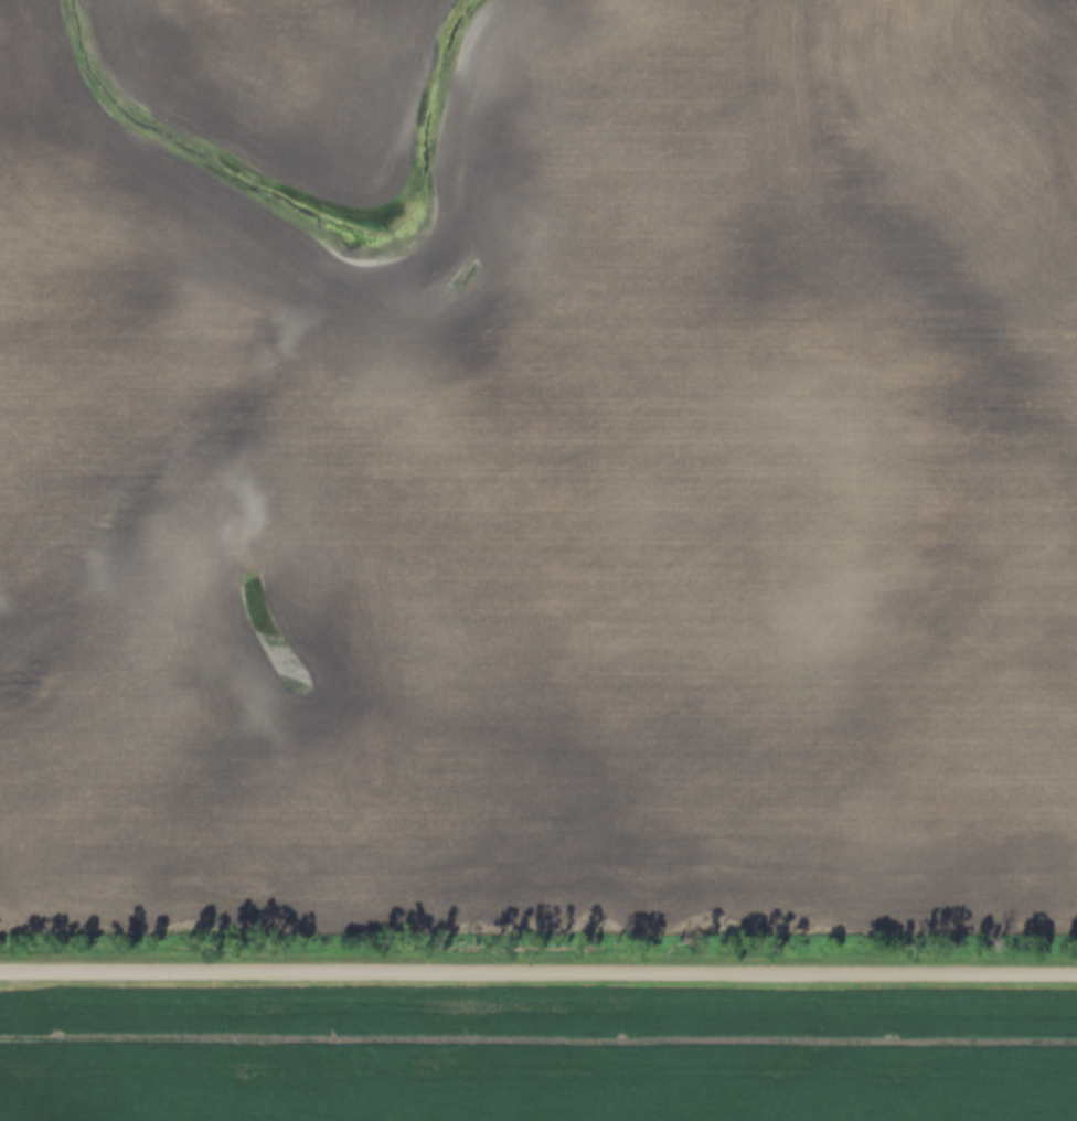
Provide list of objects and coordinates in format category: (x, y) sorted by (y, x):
road: (538, 972)

